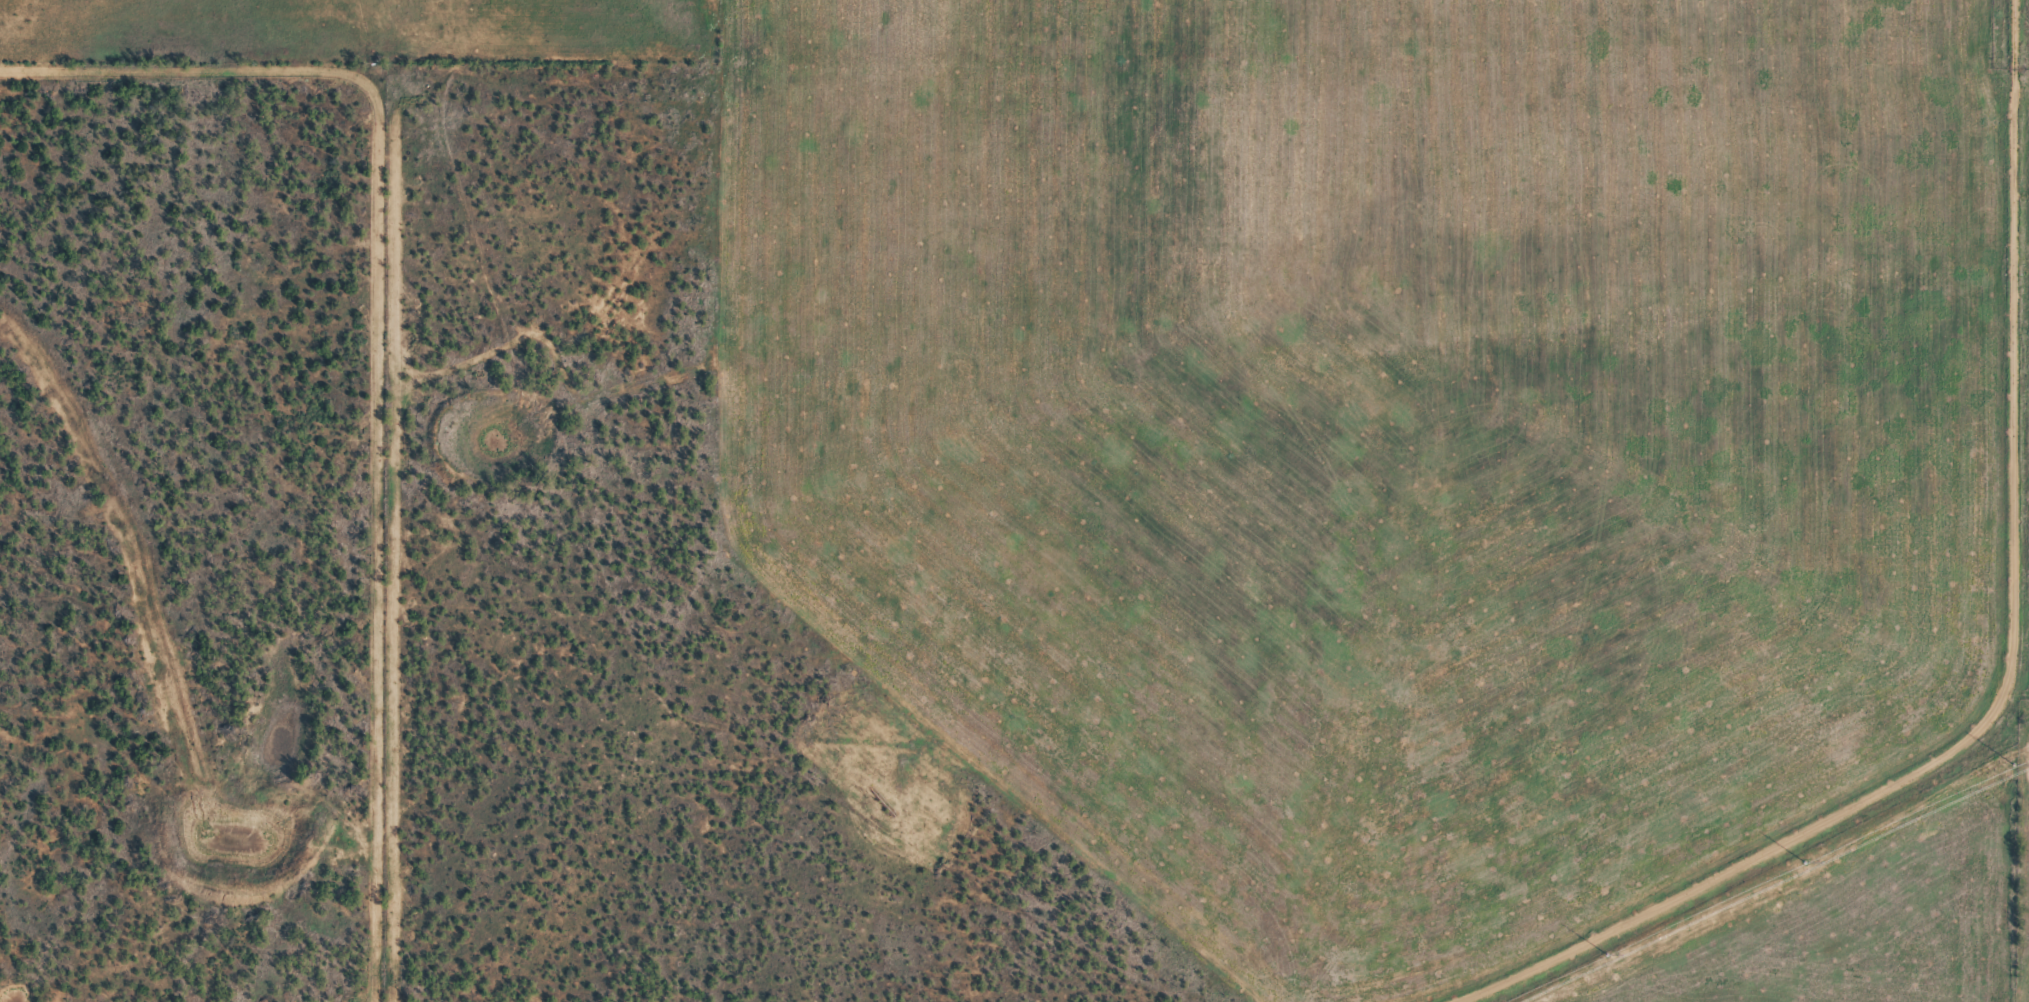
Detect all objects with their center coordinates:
road: (2016, 665)

